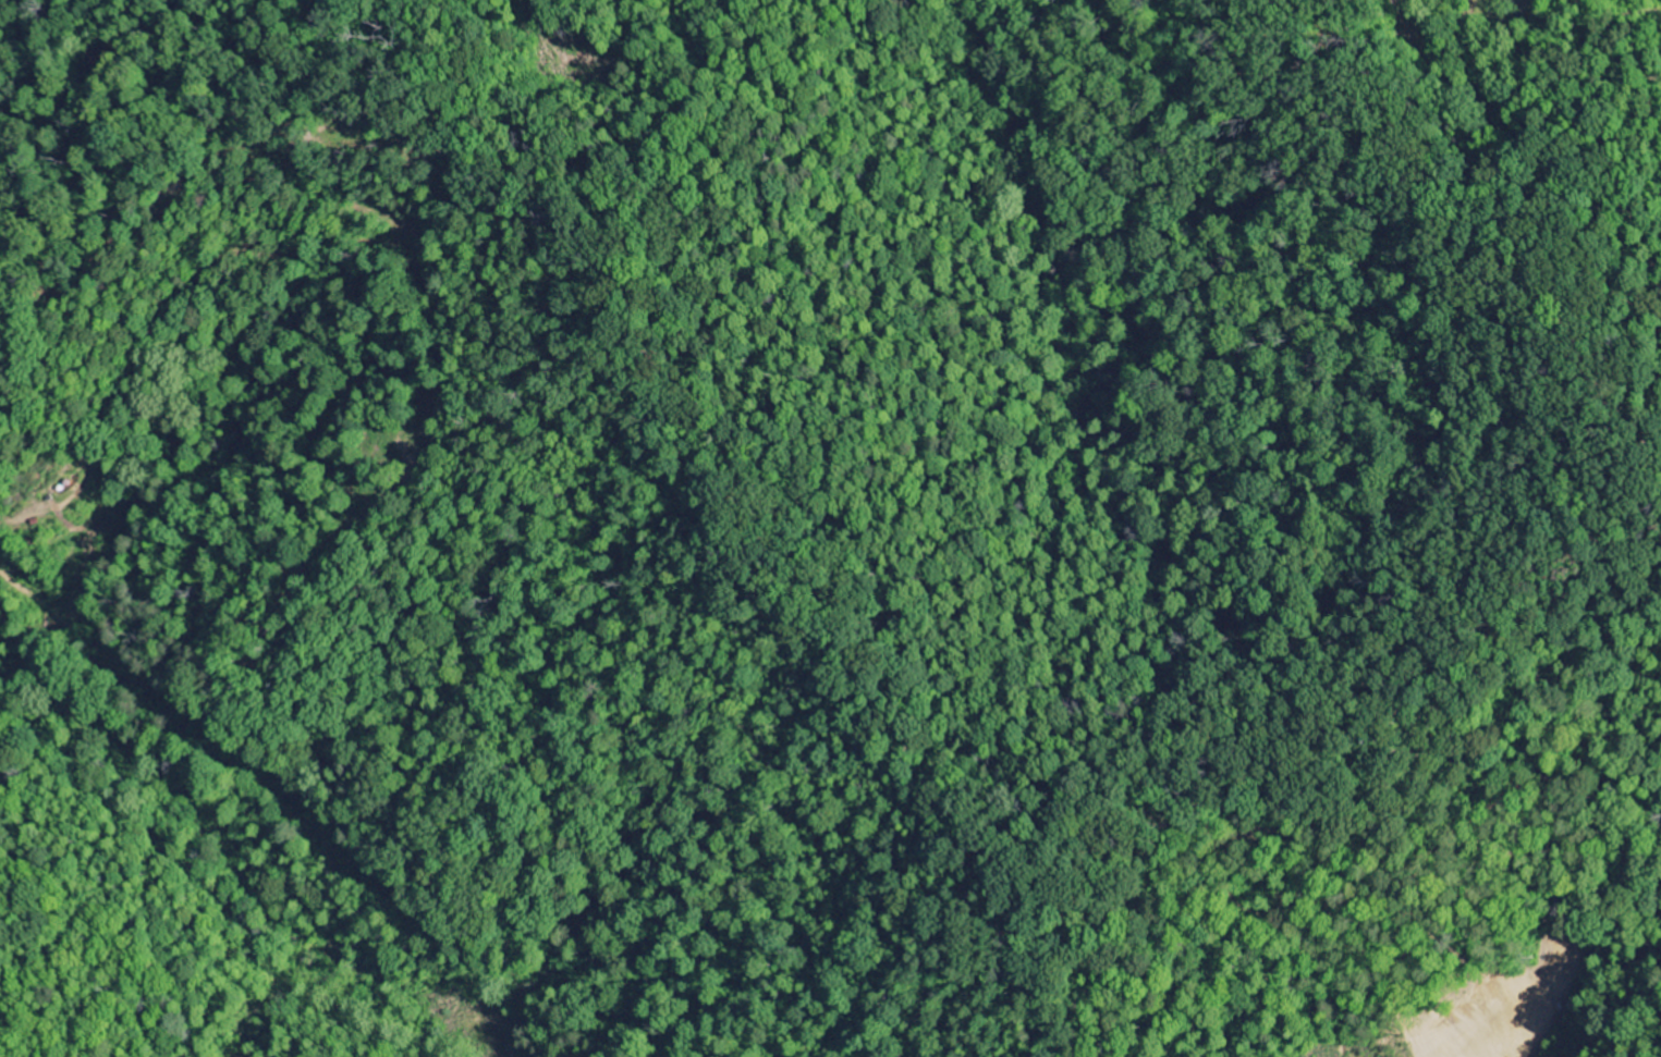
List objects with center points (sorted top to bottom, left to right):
road: (236, 844)

